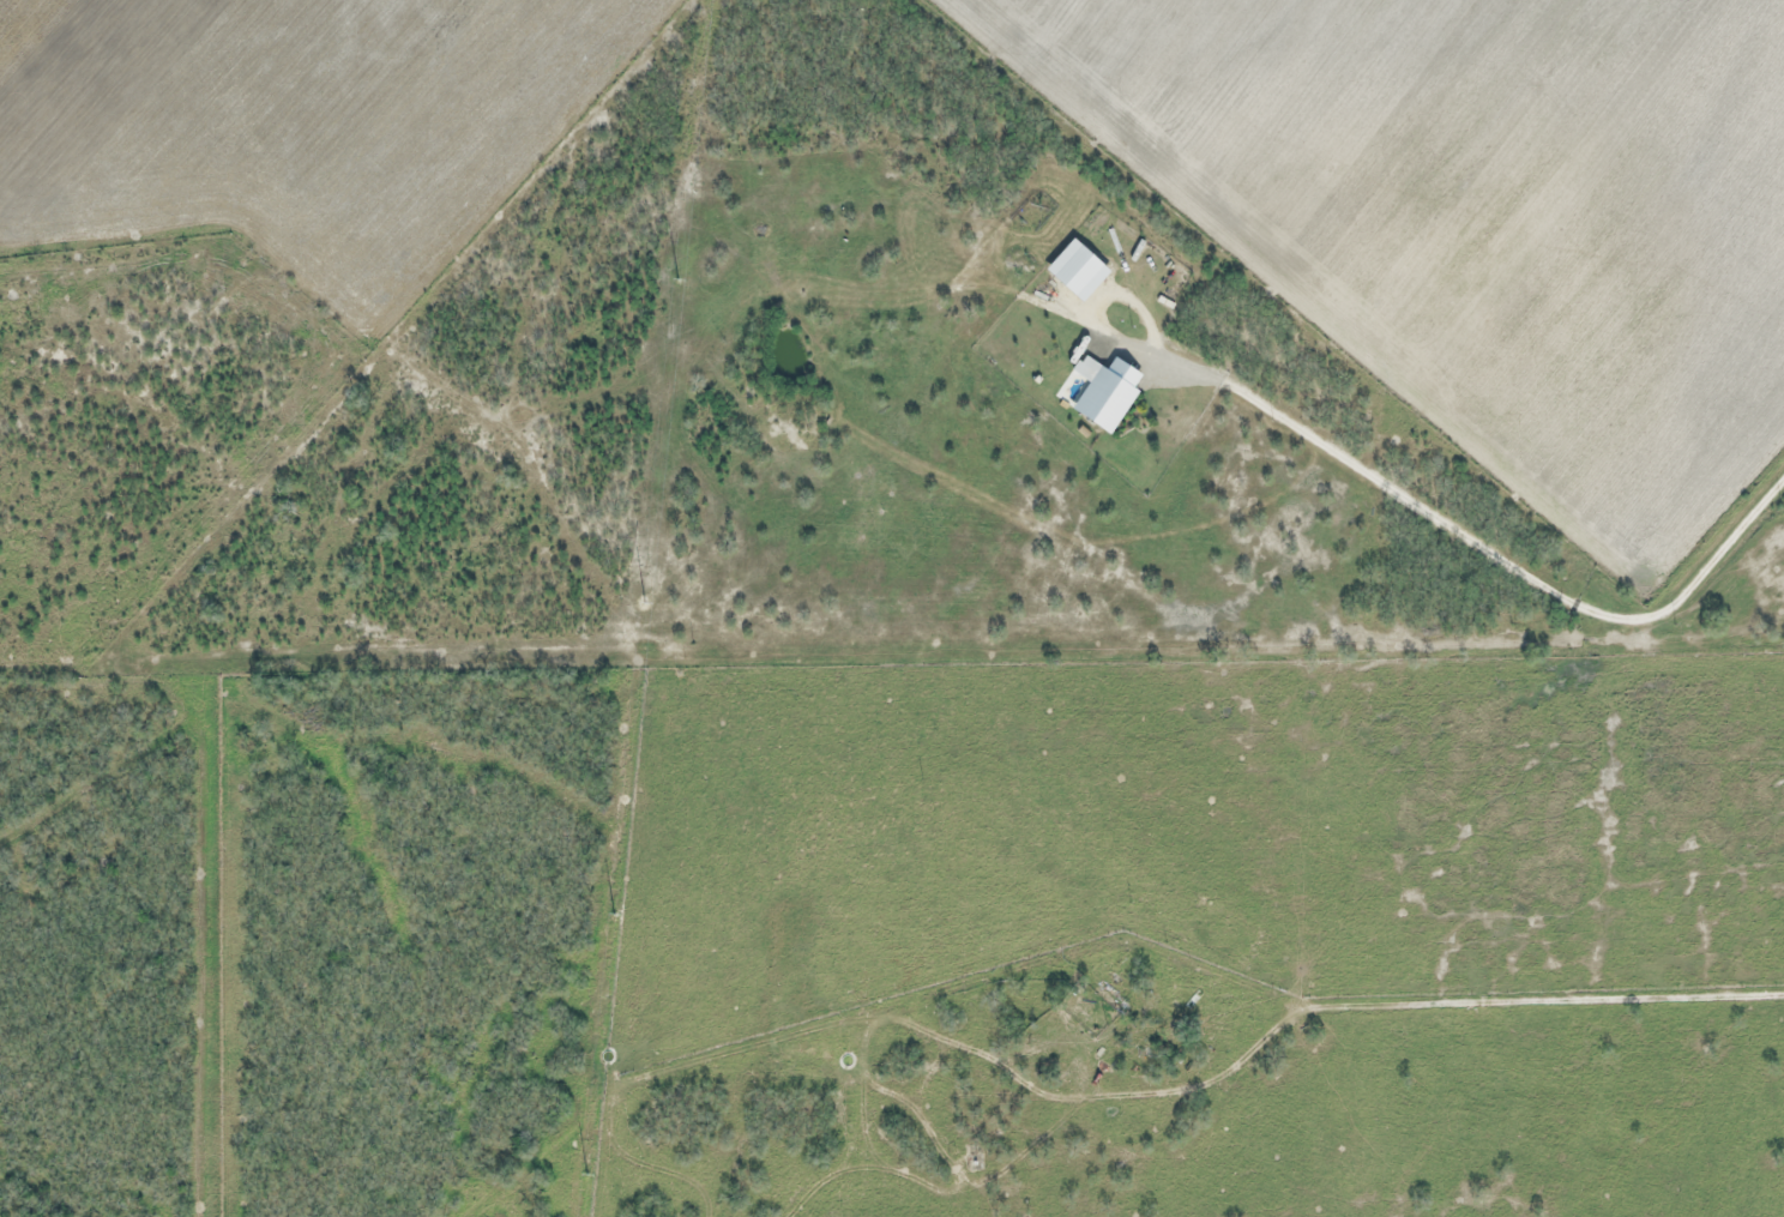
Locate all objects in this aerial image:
power tower: (674, 278)
building: (1108, 396)
power tower: (643, 602)
power tower: (610, 912)
building: (1181, 992)
road: (1503, 999)
power tower: (583, 1174)

